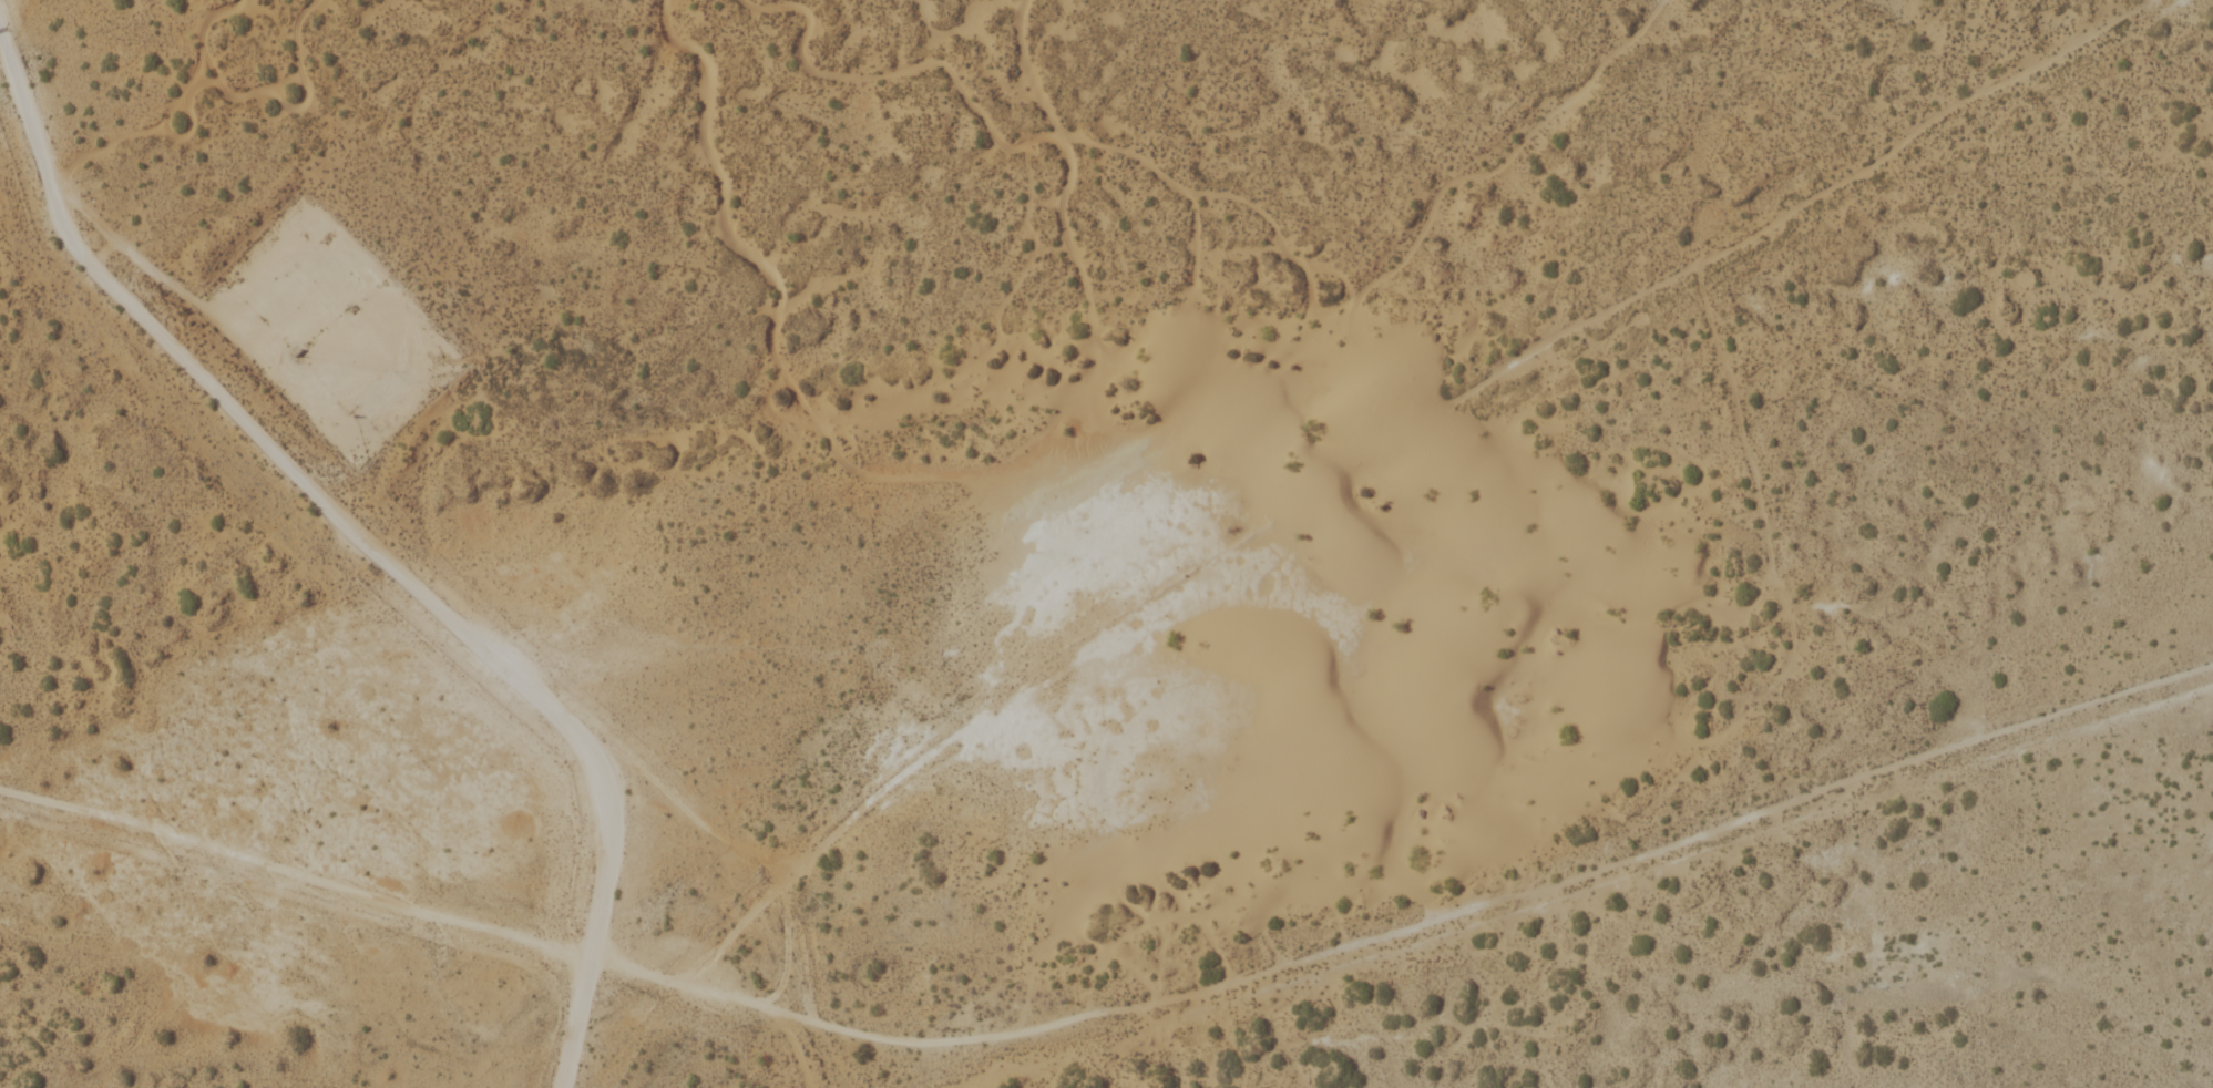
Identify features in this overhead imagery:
road: (107, 229)
road: (474, 926)

